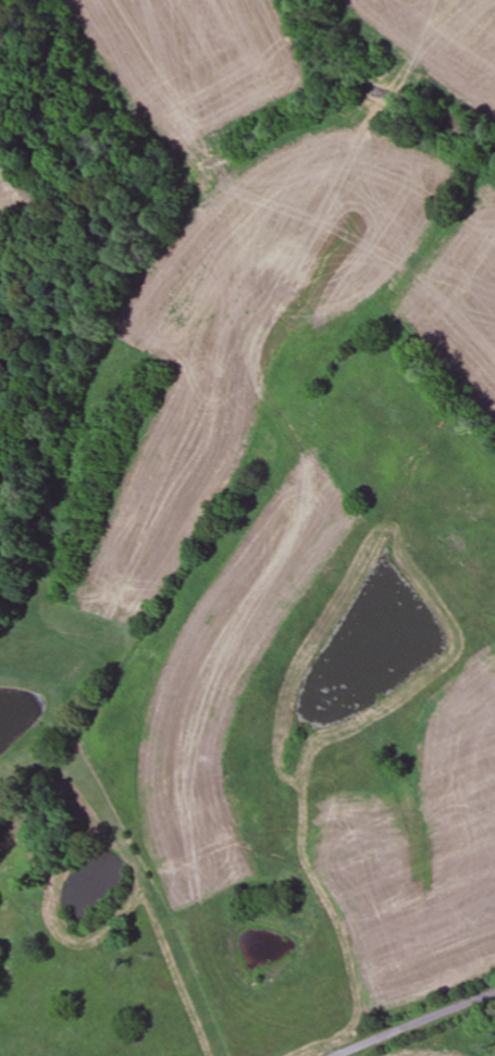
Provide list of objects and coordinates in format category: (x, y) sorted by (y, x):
road: (418, 1024)

